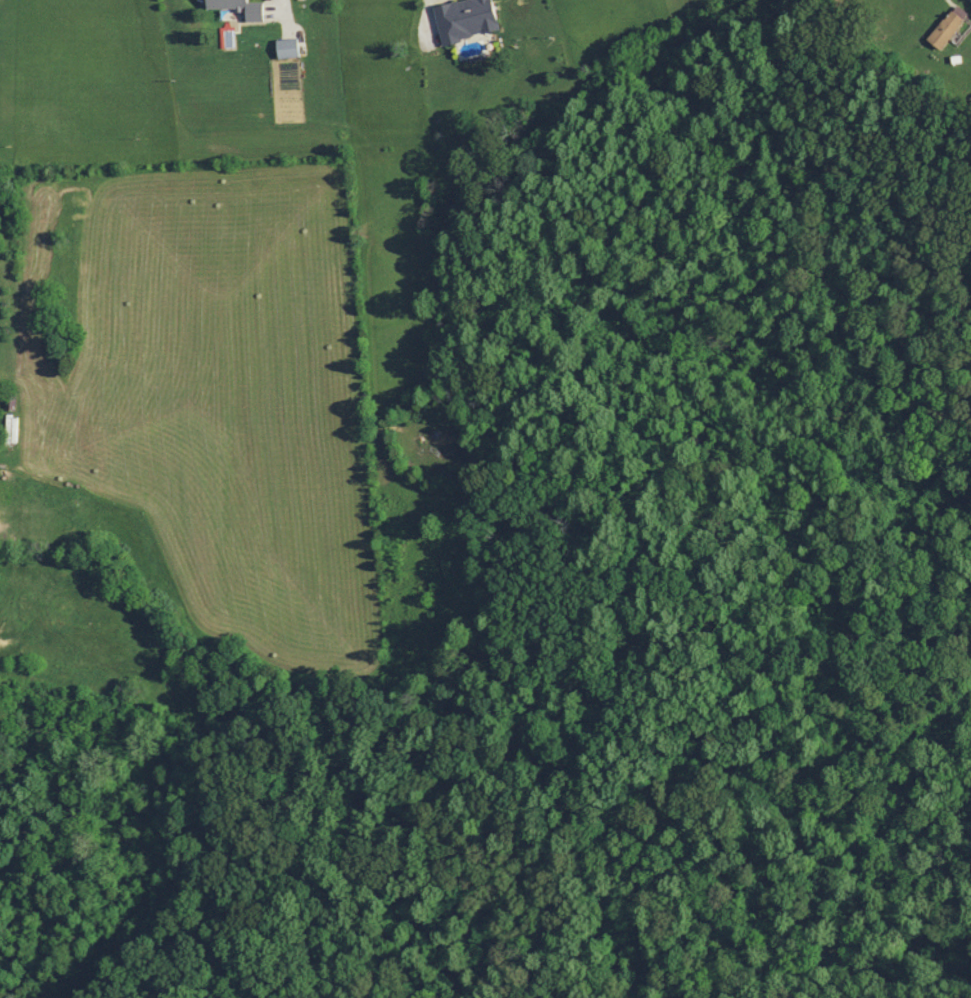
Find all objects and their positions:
building: (236, 7)
building: (462, 19)
building: (945, 27)
building: (285, 48)
road: (18, 359)
building: (8, 431)

